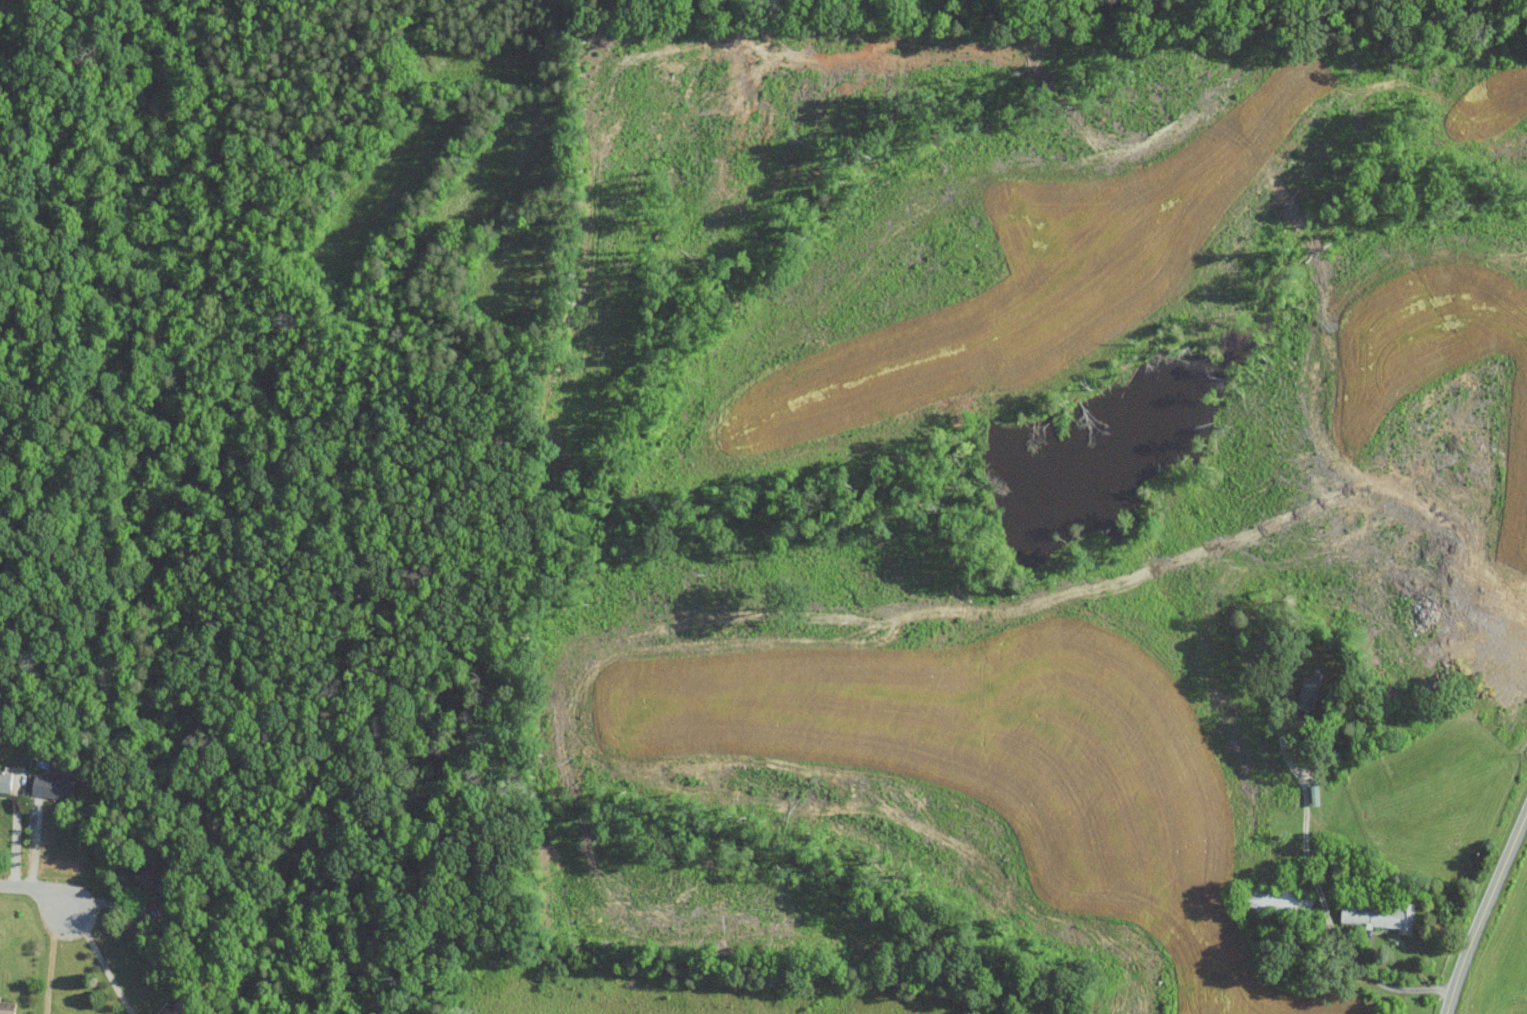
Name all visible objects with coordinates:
road: (1504, 9)
dam: (982, 509)
dam: (1001, 566)
building: (5, 780)
building: (52, 786)
road: (15, 839)
building: (150, 883)
road: (38, 888)
building: (1278, 900)
road: (1485, 912)
building: (1379, 914)
road: (1334, 935)
road: (51, 961)
road: (101, 961)
building: (7, 1007)
building: (178, 1007)

